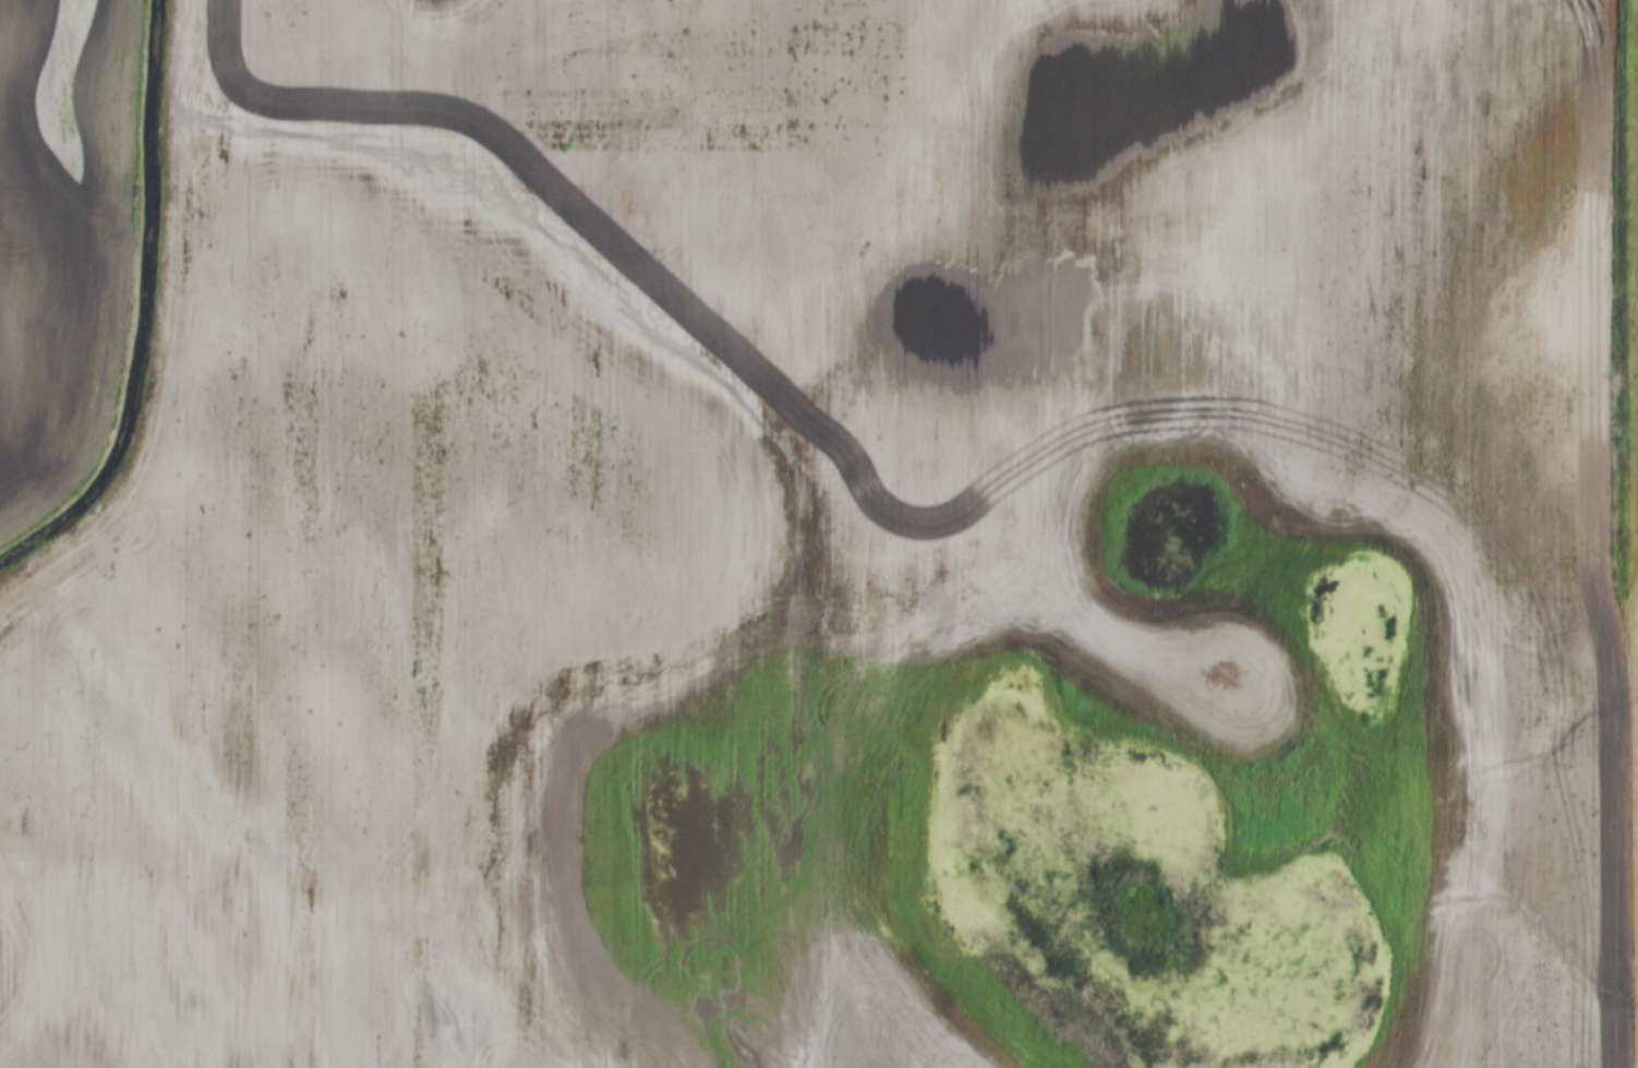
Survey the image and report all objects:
river: (129, 296)

